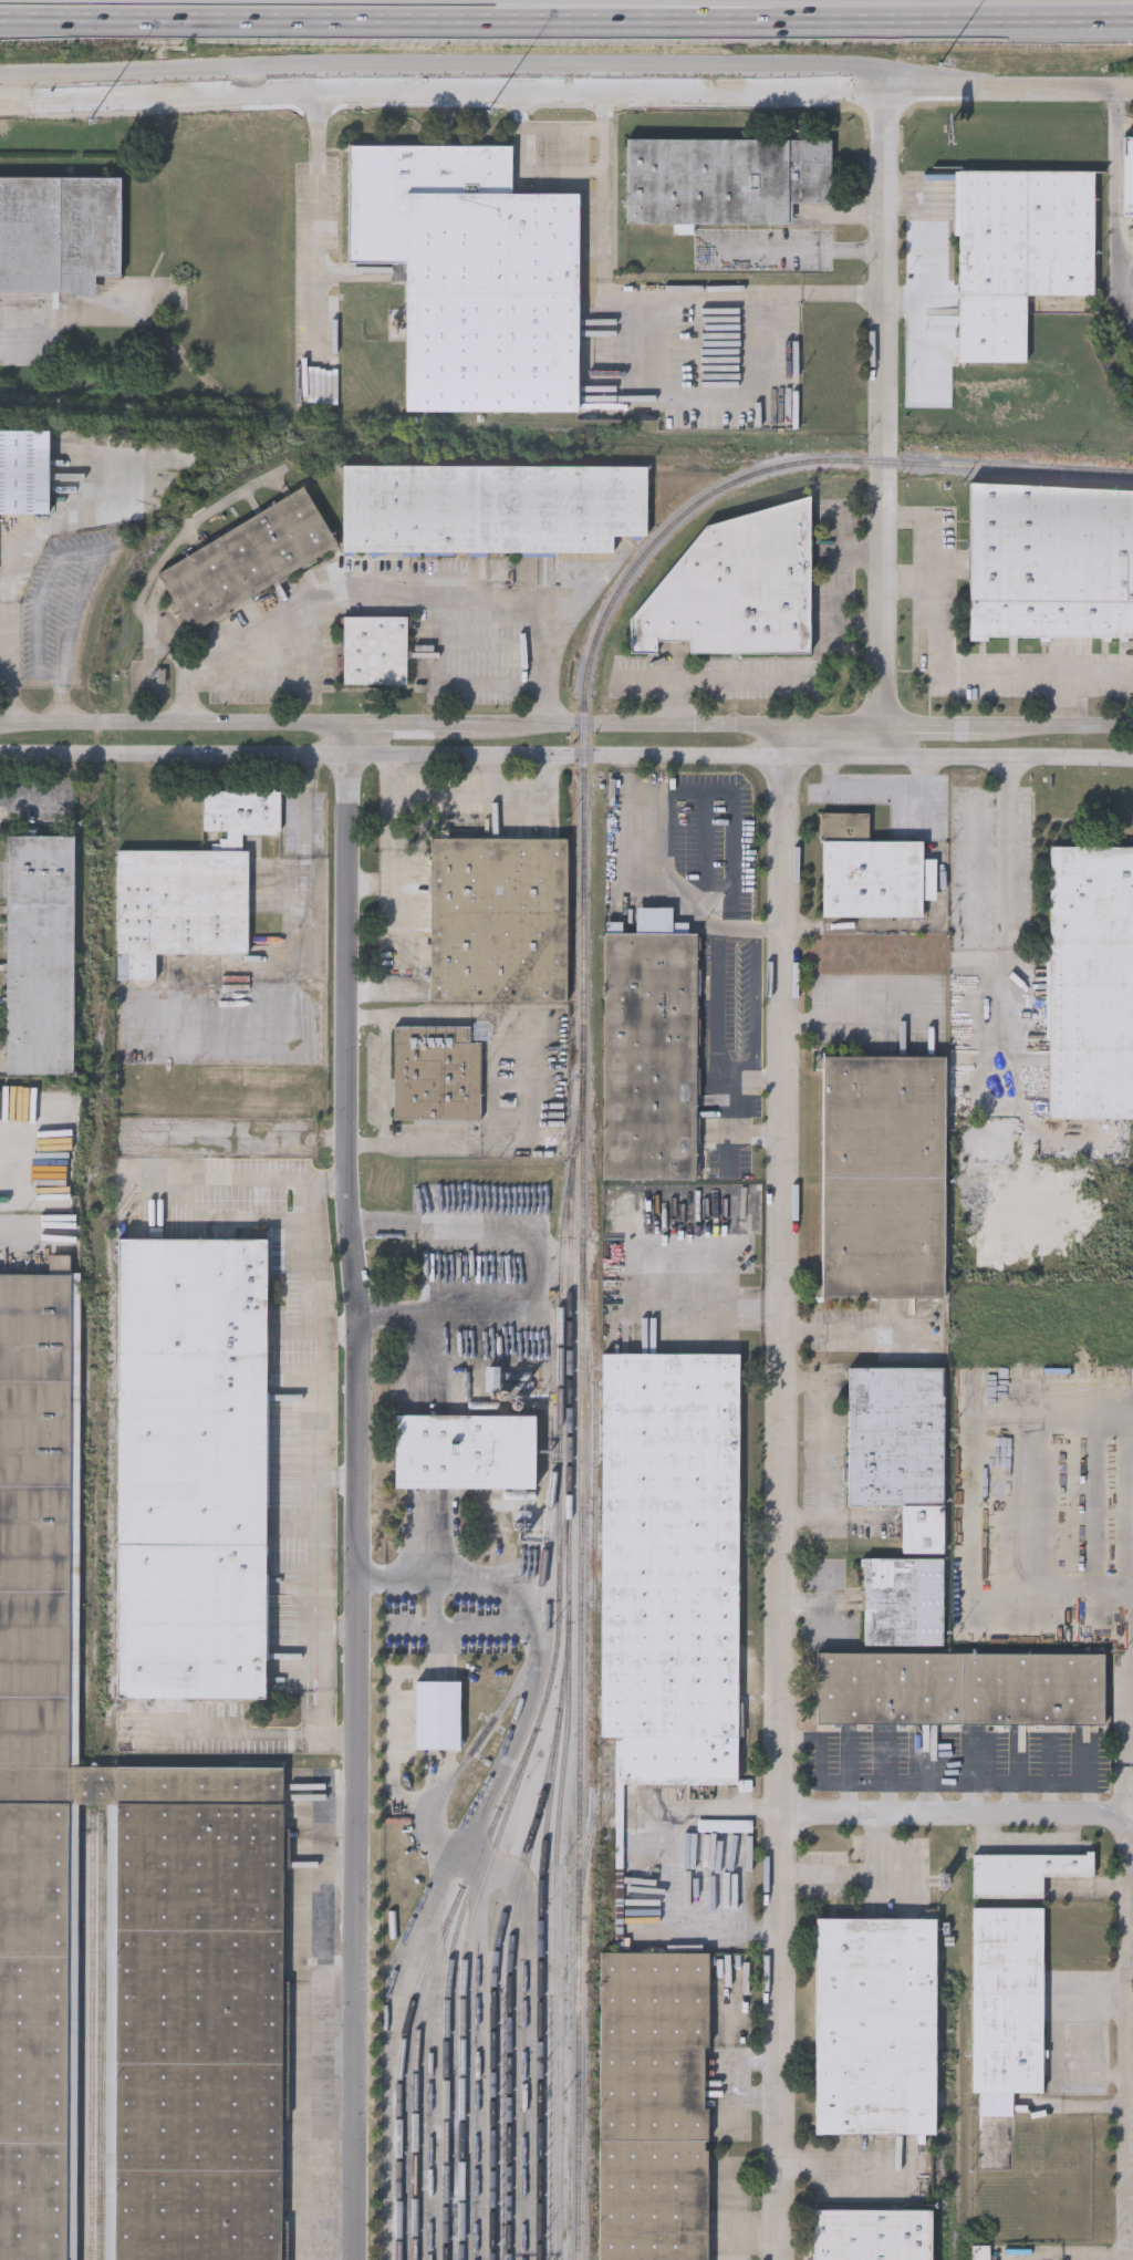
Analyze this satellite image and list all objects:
road: (566, 11)
road: (565, 41)
road: (565, 85)
road: (522, 151)
building: (1126, 177)
building: (723, 180)
road: (1125, 182)
building: (58, 234)
road: (316, 238)
building: (1018, 255)
building: (470, 276)
road: (641, 298)
road: (12, 340)
road: (705, 400)
road: (883, 422)
railway: (986, 467)
building: (23, 471)
building: (490, 509)
road: (55, 526)
road: (87, 551)
building: (246, 556)
building: (1050, 562)
road: (908, 584)
building: (735, 585)
road: (834, 588)
road: (385, 594)
building: (374, 652)
road: (12, 664)
road: (934, 668)
road: (719, 680)
road: (651, 681)
road: (288, 684)
road: (447, 685)
road: (1063, 701)
road: (59, 704)
road: (566, 726)
road: (489, 775)
road: (877, 787)
road: (470, 792)
road: (388, 846)
road: (999, 849)
building: (867, 870)
road: (678, 877)
building: (190, 887)
building: (497, 920)
building: (39, 954)
road: (306, 977)
building: (1090, 982)
road: (397, 1015)
road: (857, 1026)
road: (724, 1027)
building: (649, 1056)
building: (436, 1074)
road: (533, 1075)
road: (755, 1076)
road: (387, 1080)
road: (756, 1127)
road: (404, 1143)
building: (883, 1176)
road: (232, 1184)
building: (458, 1222)
road: (311, 1256)
railway: (582, 1288)
road: (703, 1310)
road: (313, 1424)
building: (898, 1447)
road: (822, 1449)
building: (464, 1450)
building: (190, 1466)
road: (980, 1491)
road: (355, 1492)
road: (784, 1492)
building: (669, 1564)
road: (1131, 1564)
road: (313, 1576)
railway: (596, 1576)
road: (517, 1587)
building: (903, 1600)
road: (1131, 1615)
railway: (570, 1673)
building: (959, 1687)
road: (314, 1699)
building: (437, 1713)
railway: (540, 1719)
road: (245, 1739)
building: (39, 1756)
road: (929, 1783)
road: (1010, 1797)
road: (1053, 1797)
road: (1130, 1797)
road: (887, 1798)
road: (927, 1798)
road: (971, 1798)
road: (850, 1800)
road: (1091, 1800)
road: (717, 1810)
road: (949, 1814)
road: (1131, 1814)
building: (1025, 1872)
railway: (541, 1945)
railway: (448, 1991)
railway: (510, 1991)
building: (1007, 1999)
building: (193, 2010)
building: (874, 2025)
railway: (492, 2031)
railway: (419, 2032)
railway: (83, 2038)
railway: (93, 2038)
railway: (101, 2039)
road: (1130, 2042)
railway: (402, 2066)
building: (652, 2105)
road: (818, 2160)
building: (872, 2235)
building: (987, 2252)
road: (1106, 2257)
road: (1043, 2259)

